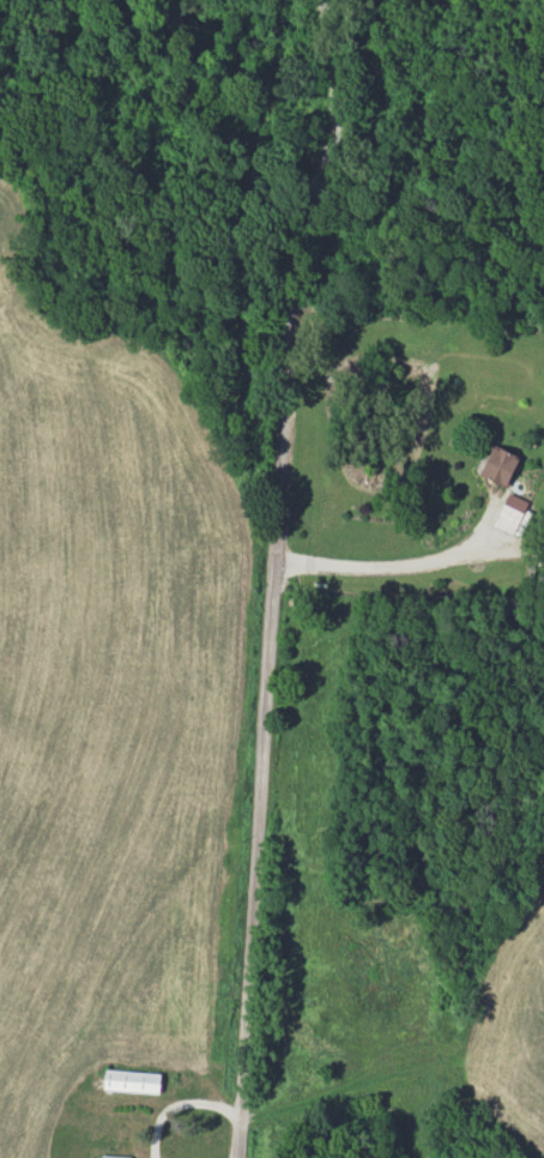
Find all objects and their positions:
building: (501, 465)
building: (510, 512)
road: (382, 567)
road: (276, 578)
crop: (114, 700)
crop: (510, 1014)
building: (132, 1080)
building: (114, 1156)

